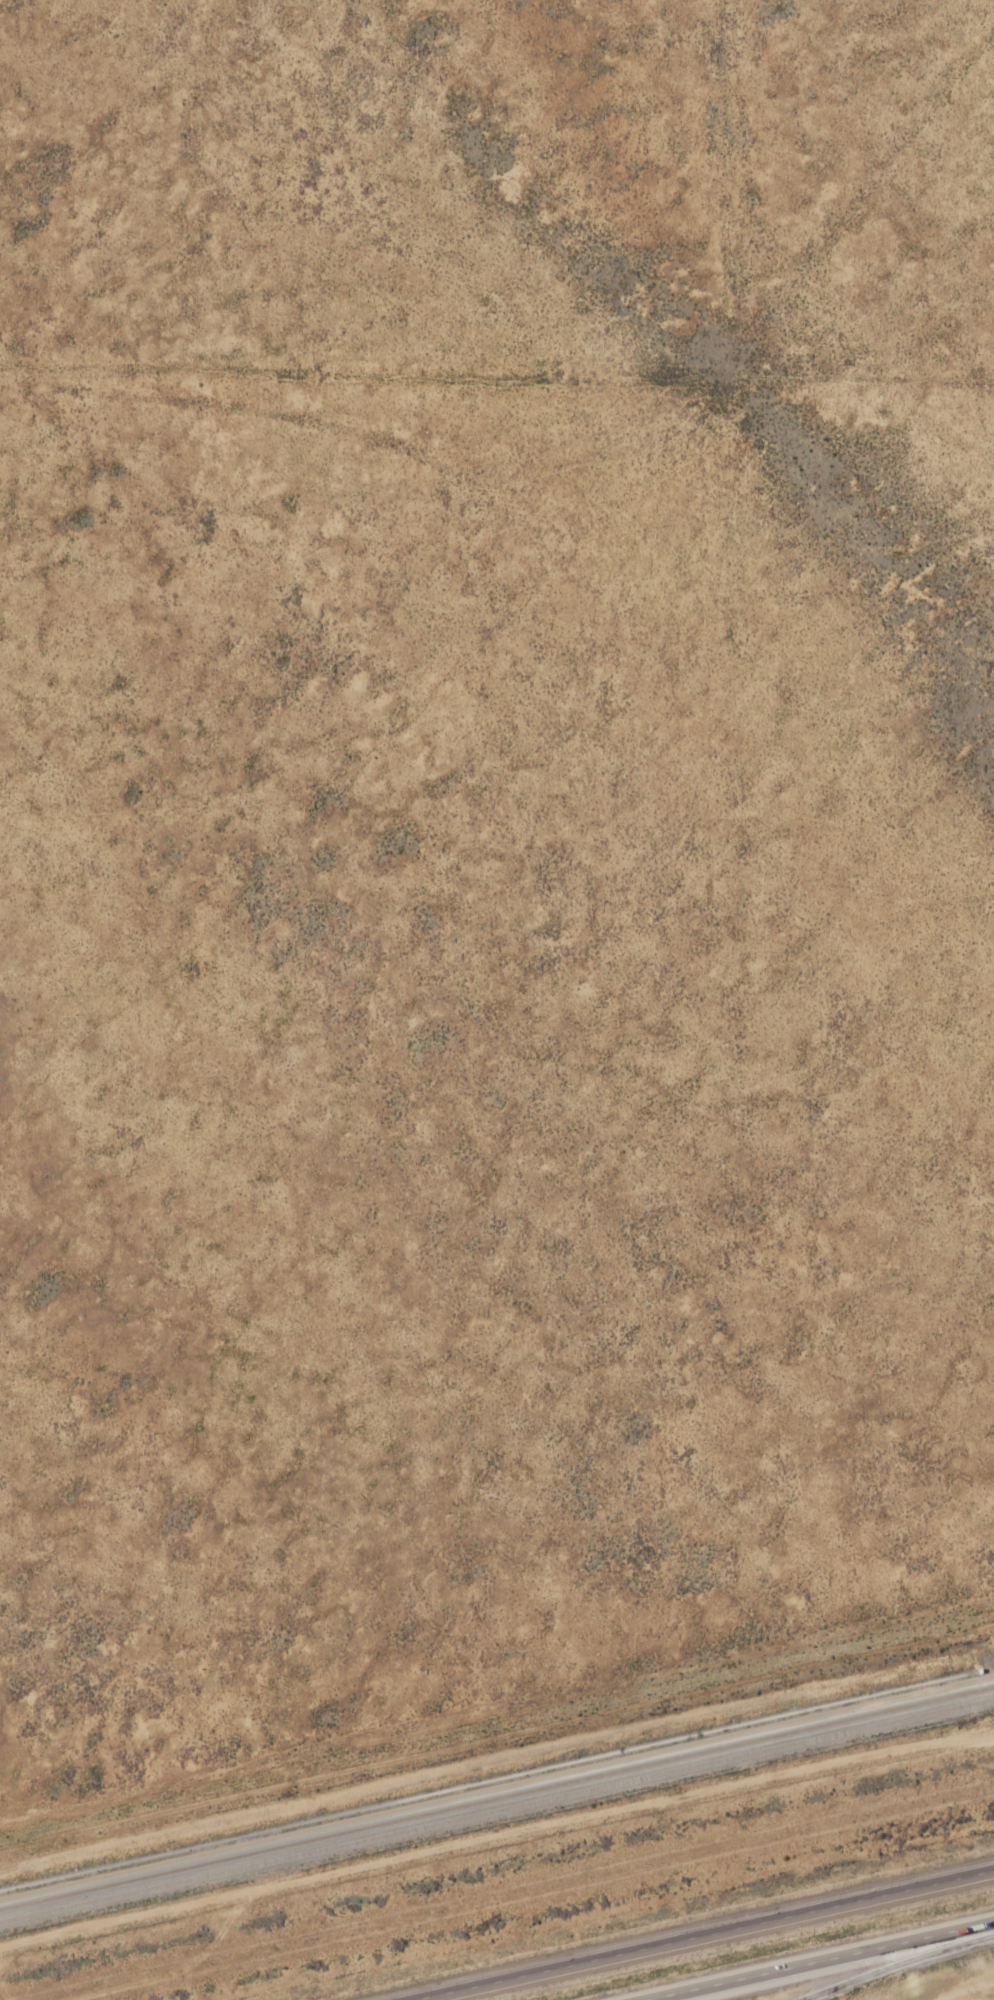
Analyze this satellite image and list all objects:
railway: (496, 1797)
railway: (496, 1807)
road: (708, 1935)
road: (819, 1960)
road: (899, 1967)

